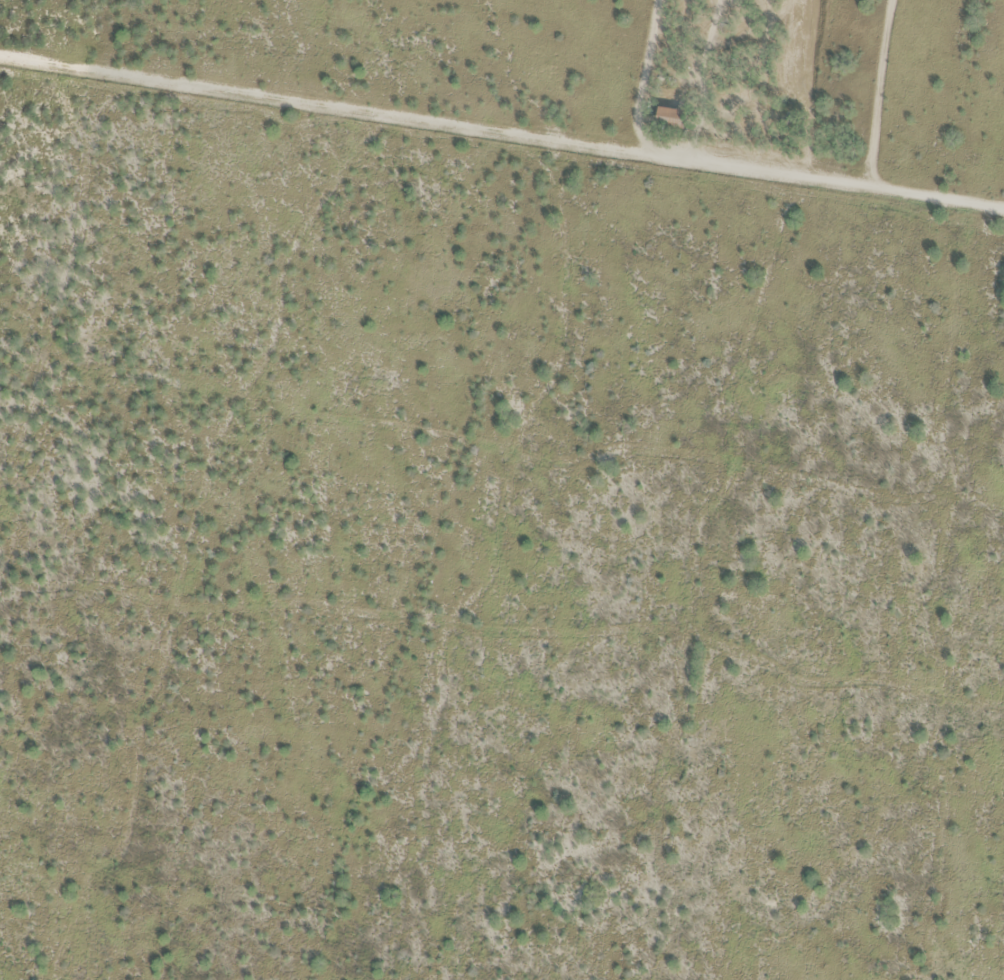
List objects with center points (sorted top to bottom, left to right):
building: (671, 118)

